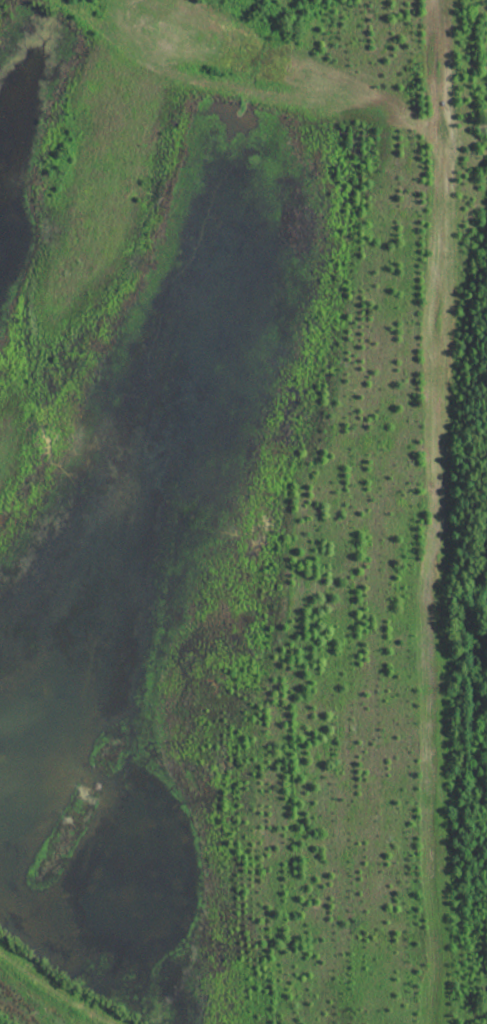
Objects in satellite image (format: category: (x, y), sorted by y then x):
road: (22, 1008)

